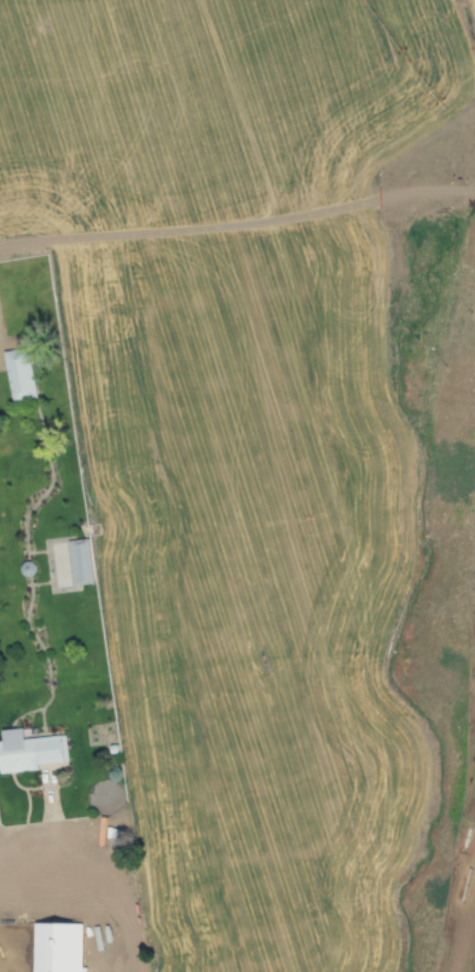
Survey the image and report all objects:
crop: (217, 105)
building: (19, 377)
crop: (250, 585)
building: (31, 751)
road: (71, 897)
road: (143, 947)
building: (57, 948)

